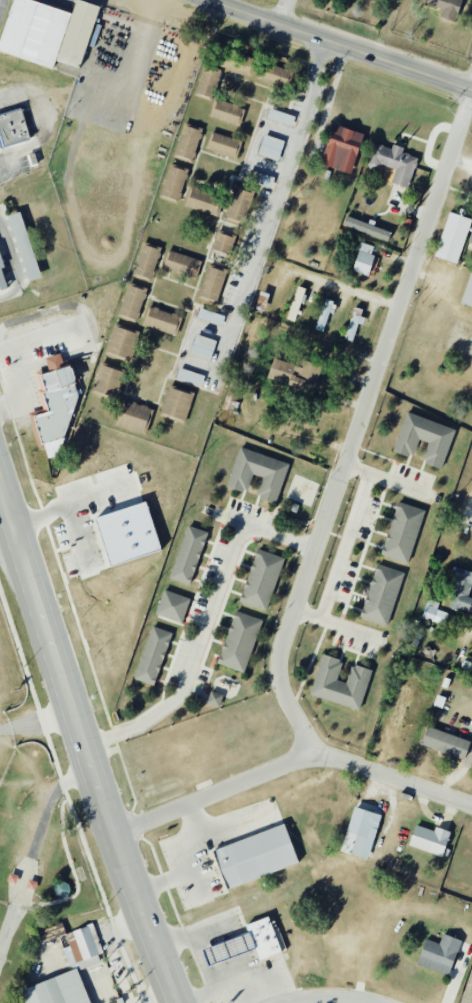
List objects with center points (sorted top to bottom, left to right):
building: (446, 8)
road: (281, 13)
road: (387, 29)
building: (47, 32)
road: (336, 46)
building: (237, 62)
building: (274, 75)
building: (207, 81)
building: (225, 112)
building: (280, 117)
building: (12, 128)
building: (188, 141)
building: (222, 144)
building: (271, 146)
building: (341, 148)
building: (394, 162)
road: (462, 164)
building: (260, 178)
building: (174, 182)
building: (202, 201)
building: (239, 204)
road: (272, 214)
building: (366, 228)
building: (452, 237)
building: (470, 240)
building: (223, 243)
building: (24, 246)
building: (363, 259)
building: (146, 260)
building: (181, 264)
building: (2, 276)
building: (212, 283)
road: (339, 287)
building: (468, 291)
building: (132, 301)
building: (295, 303)
building: (324, 315)
building: (210, 316)
building: (160, 320)
building: (353, 324)
road: (36, 333)
building: (121, 342)
building: (203, 346)
building: (295, 372)
building: (190, 377)
building: (107, 381)
building: (176, 403)
building: (132, 416)
road: (359, 427)
building: (424, 439)
building: (258, 474)
building: (402, 532)
building: (127, 534)
road: (72, 546)
road: (344, 546)
building: (188, 555)
building: (261, 580)
building: (461, 592)
building: (381, 595)
building: (172, 606)
building: (434, 613)
road: (207, 627)
road: (467, 637)
building: (239, 641)
building: (152, 656)
building: (466, 666)
building: (340, 683)
building: (214, 699)
building: (402, 706)
road: (37, 723)
road: (2, 737)
building: (444, 742)
road: (85, 745)
road: (291, 759)
building: (360, 832)
building: (429, 839)
road: (34, 851)
building: (255, 856)
building: (51, 931)
building: (246, 943)
building: (81, 947)
building: (439, 954)
road: (203, 959)
building: (471, 984)
building: (56, 990)
road: (199, 997)
road: (333, 1001)

